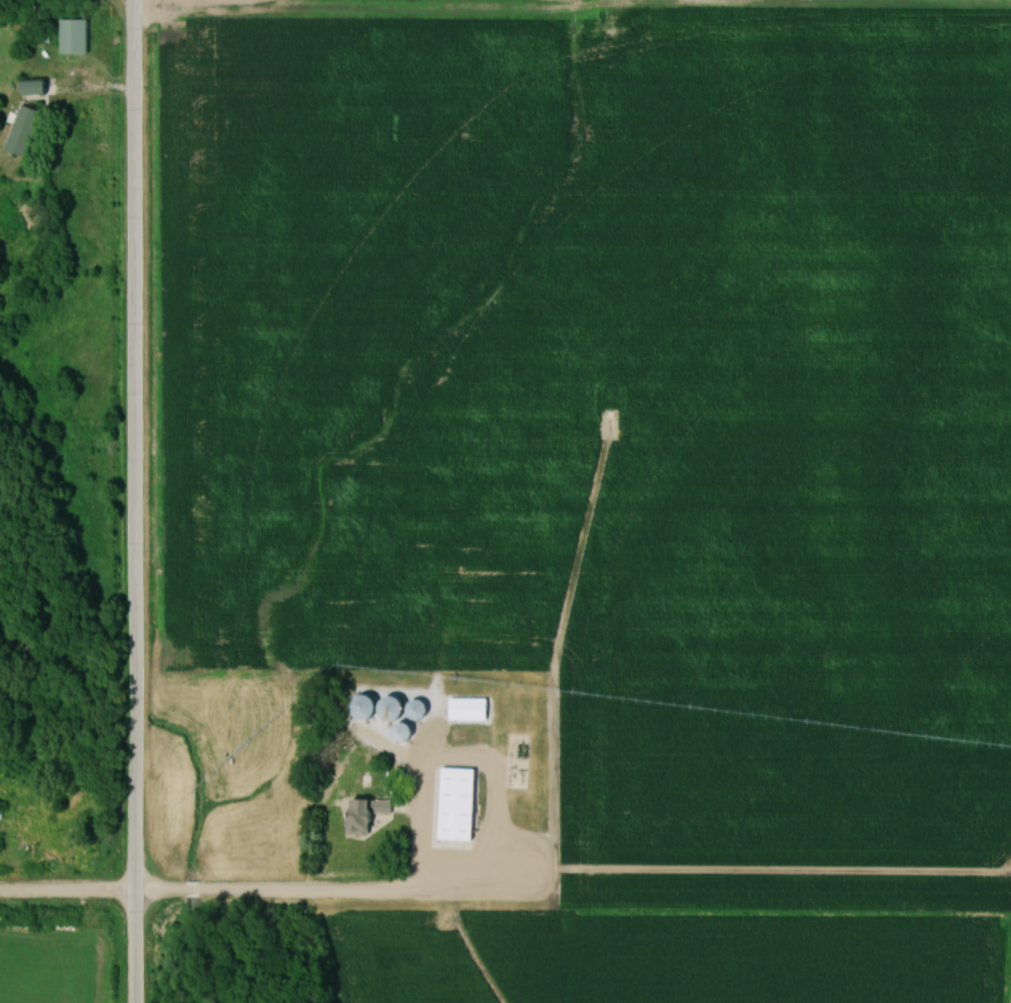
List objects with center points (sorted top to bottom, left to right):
building: (79, 35)
building: (40, 89)
building: (28, 130)
road: (135, 501)
building: (535, 681)
building: (473, 709)
building: (396, 710)
building: (408, 734)
building: (462, 804)
building: (2, 814)
building: (370, 817)
road: (419, 849)
road: (210, 892)
crop: (747, 959)
crop: (404, 961)
crop: (46, 966)

